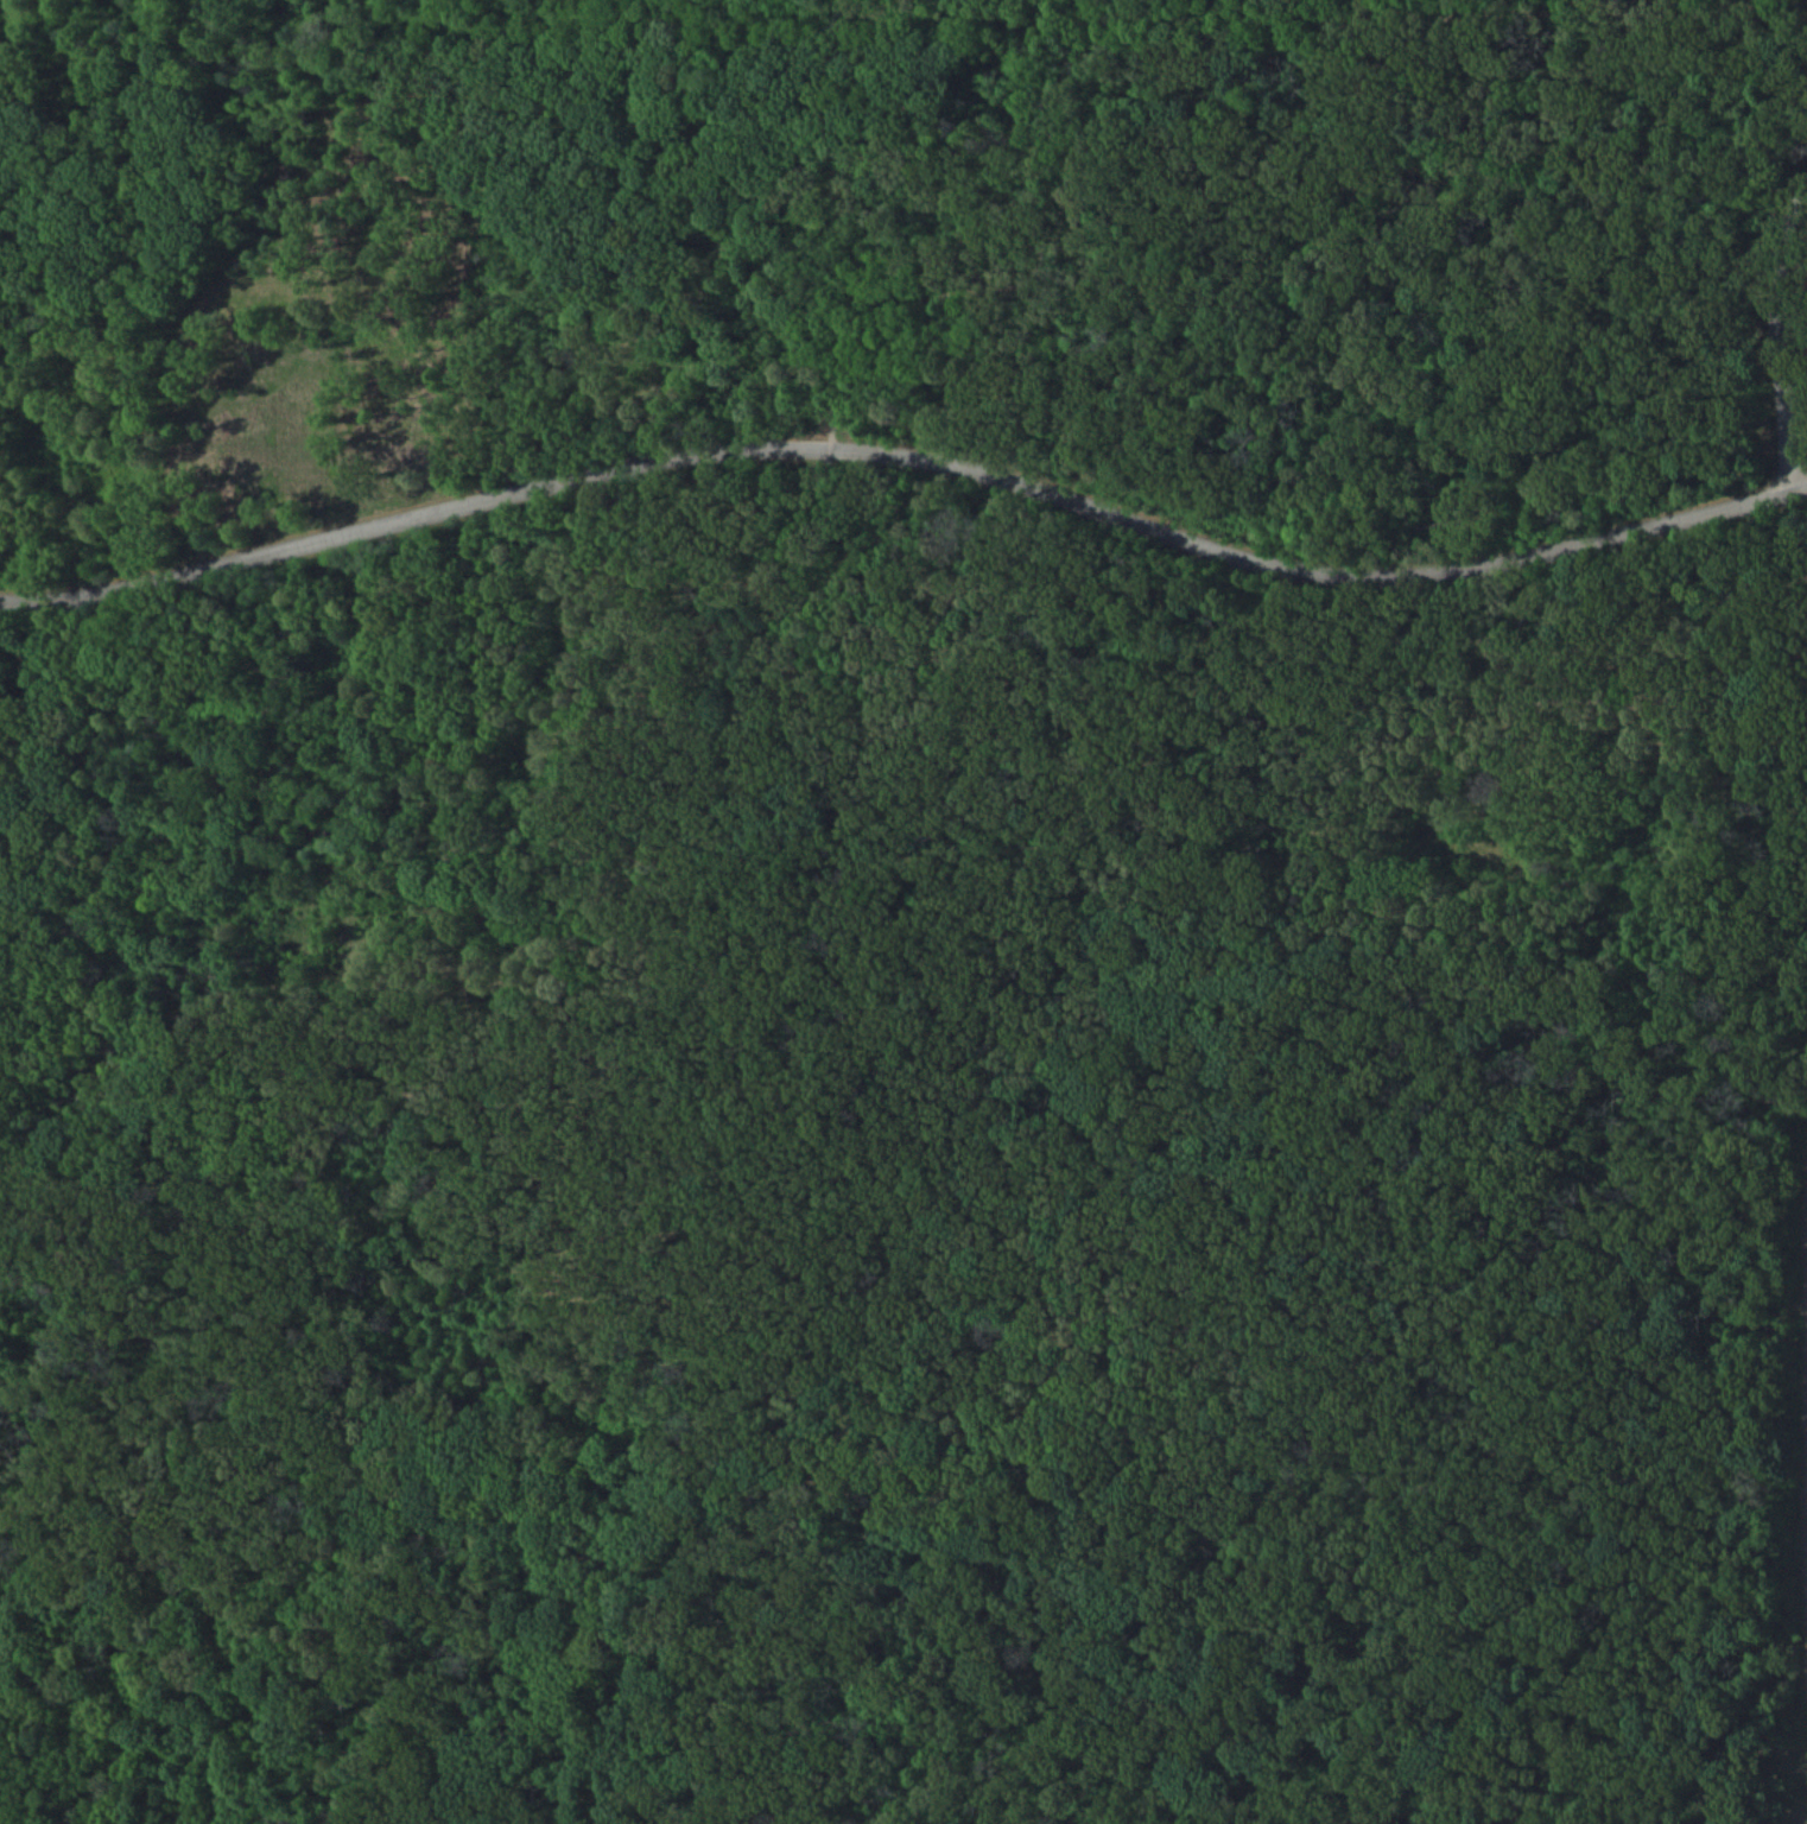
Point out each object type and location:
road: (903, 11)
road: (1781, 348)
road: (908, 454)

